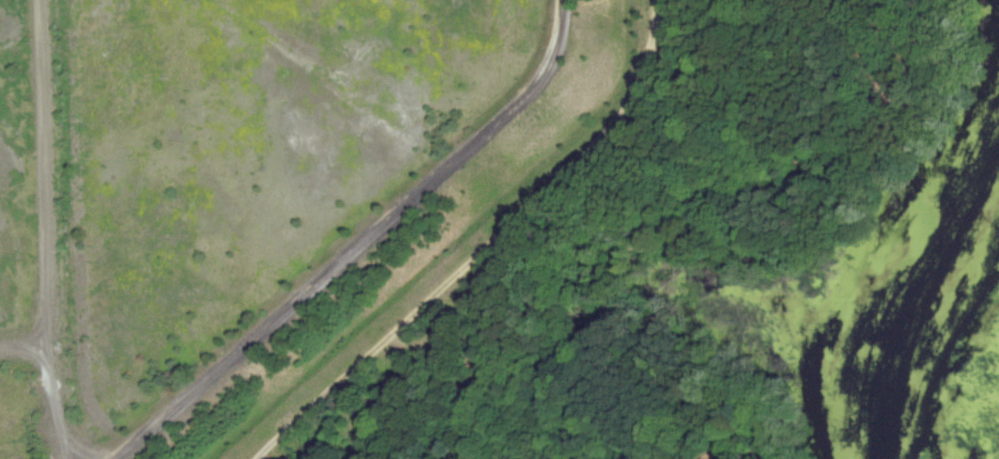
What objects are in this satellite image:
river: (920, 300)

